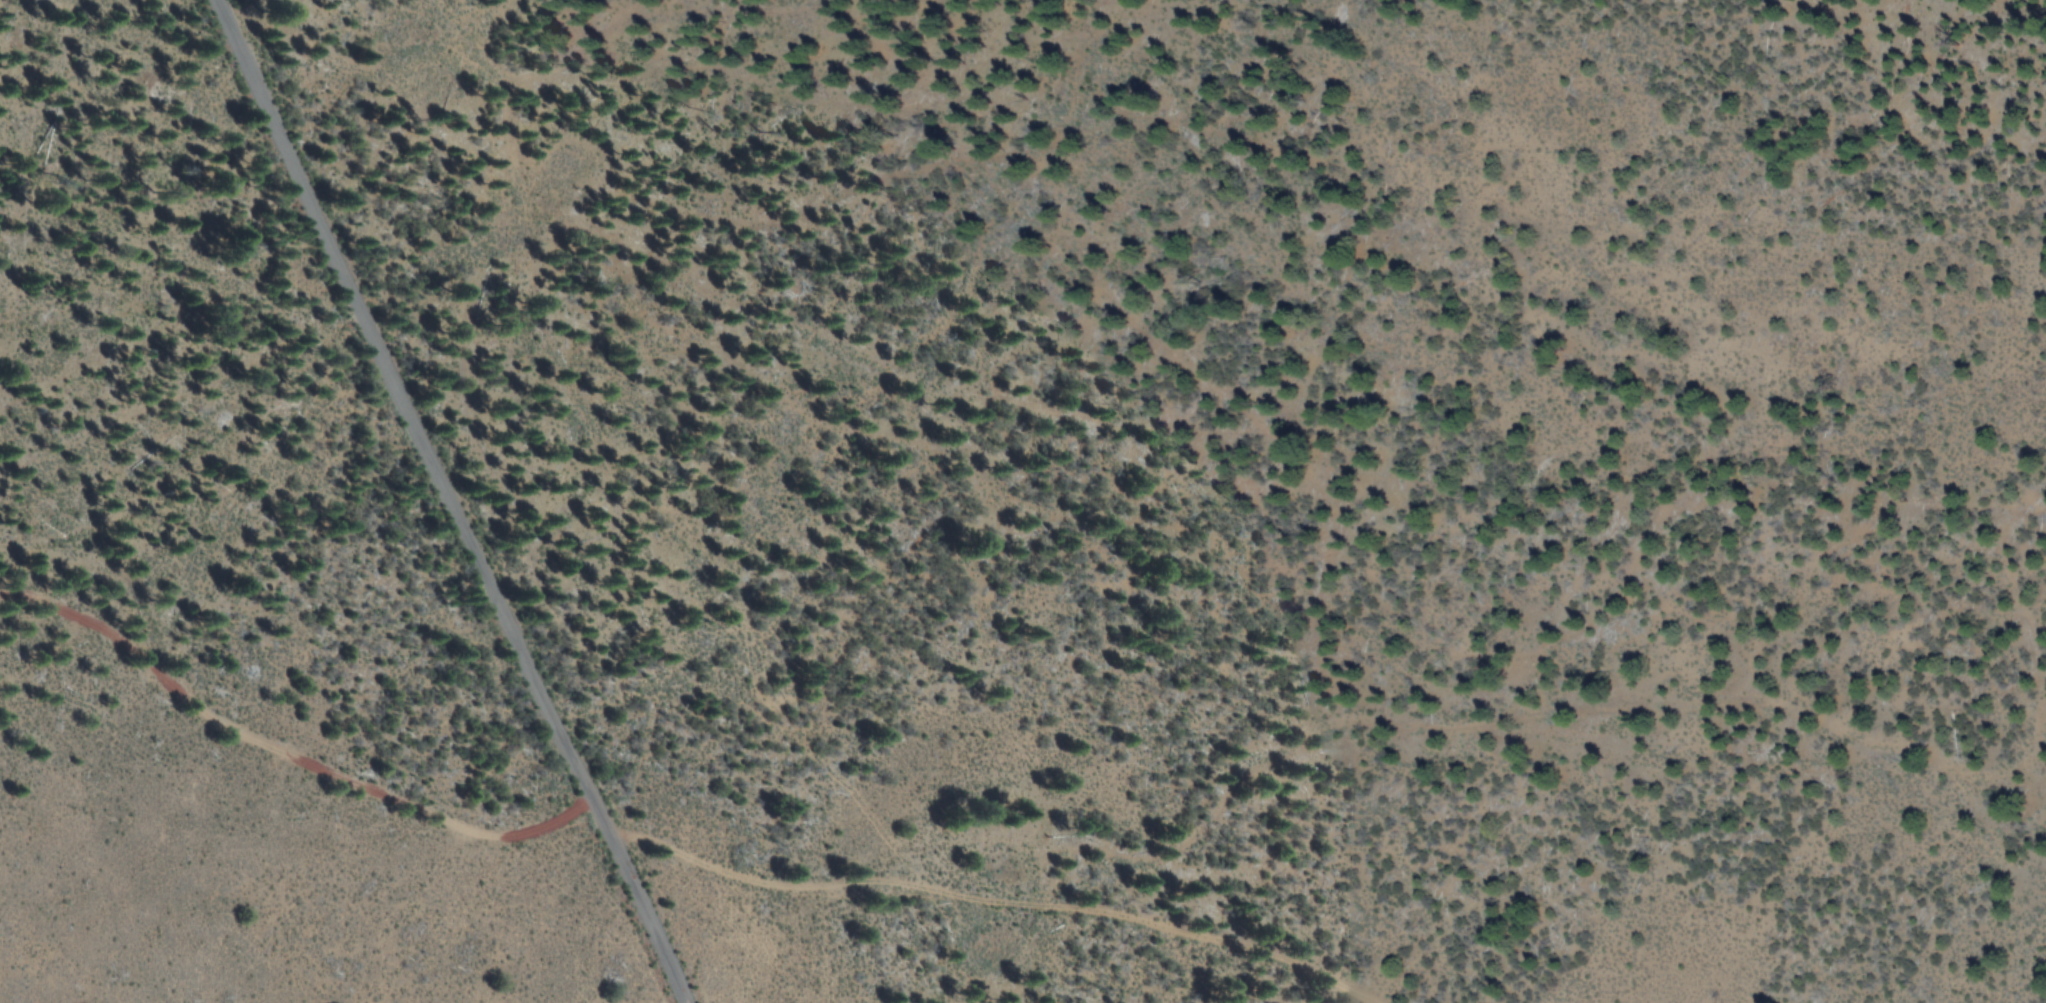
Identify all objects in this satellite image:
road: (451, 502)
road: (995, 903)

